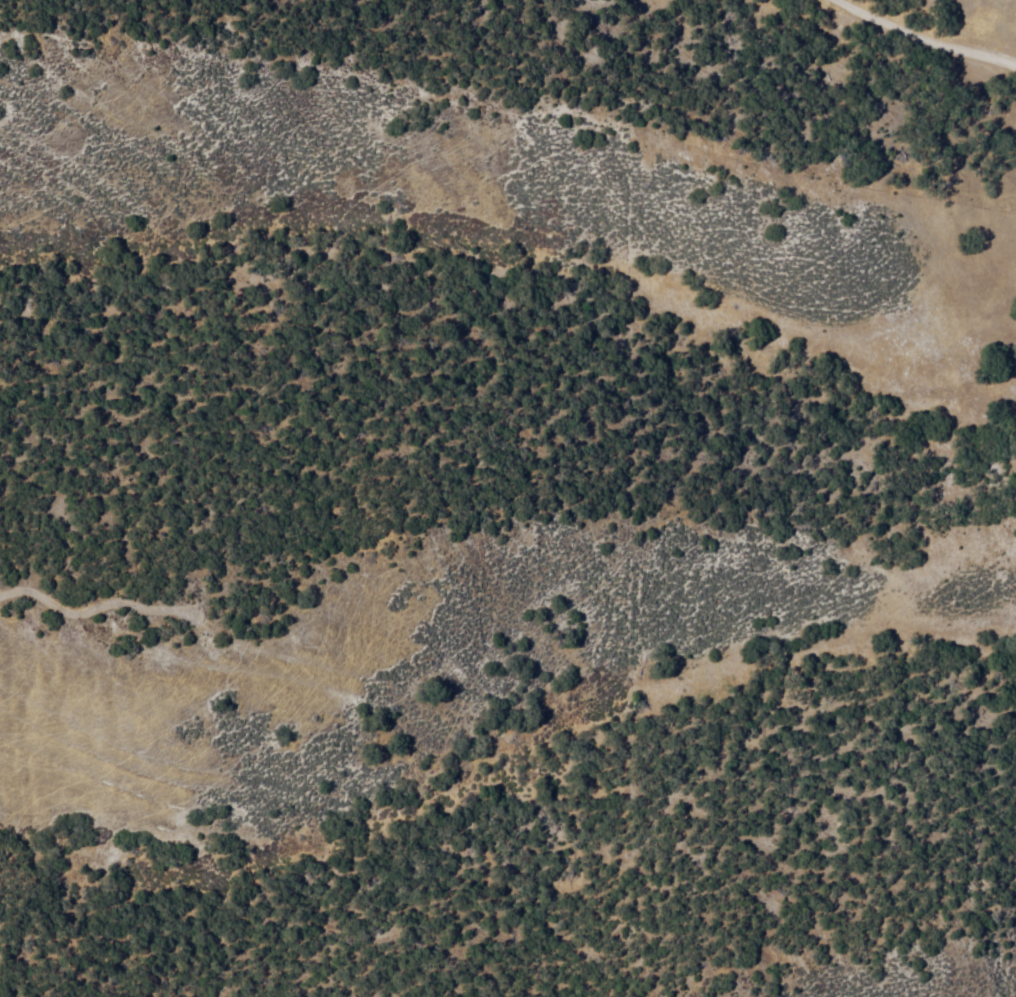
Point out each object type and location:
road: (913, 24)

